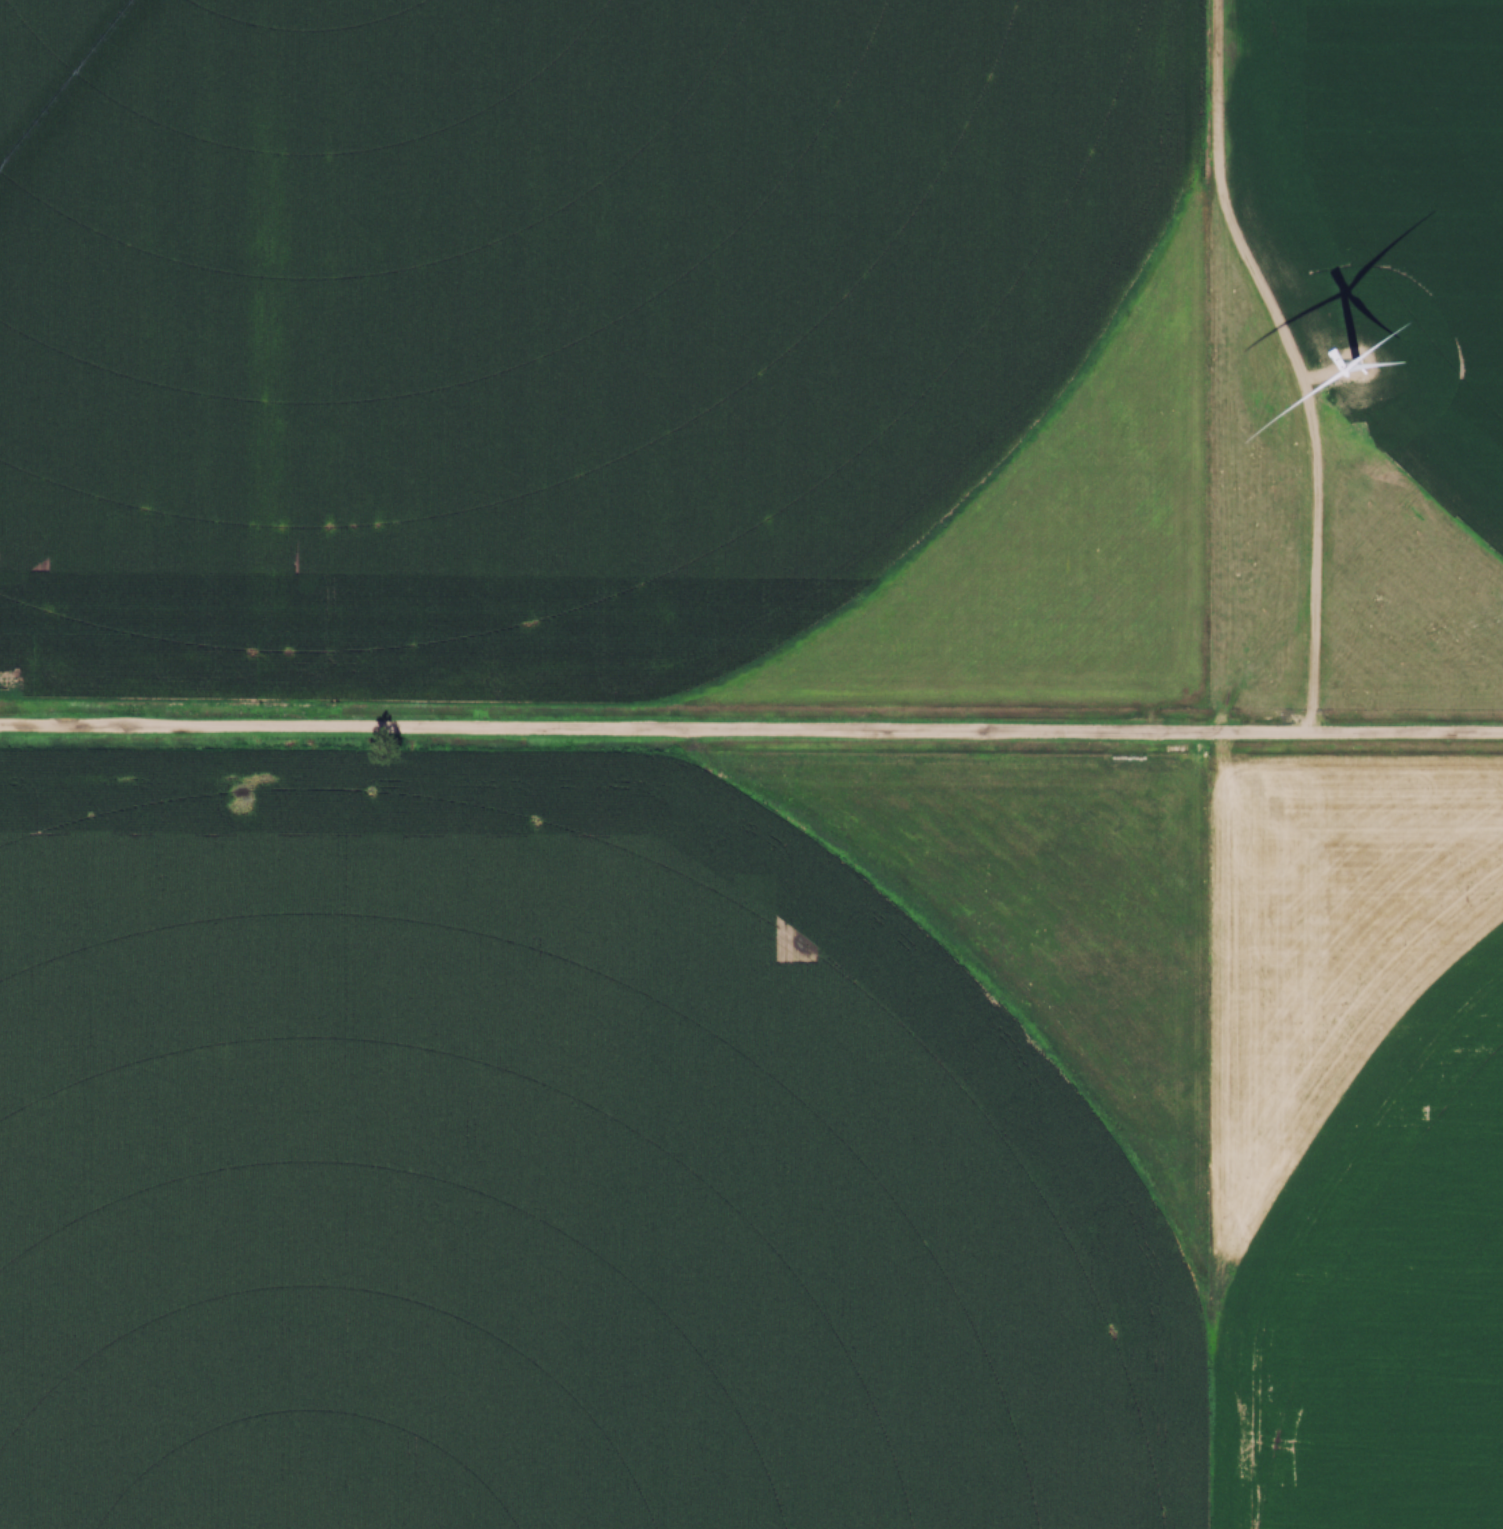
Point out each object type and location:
road: (1294, 358)
wind turbine: (1353, 364)
road: (751, 728)

